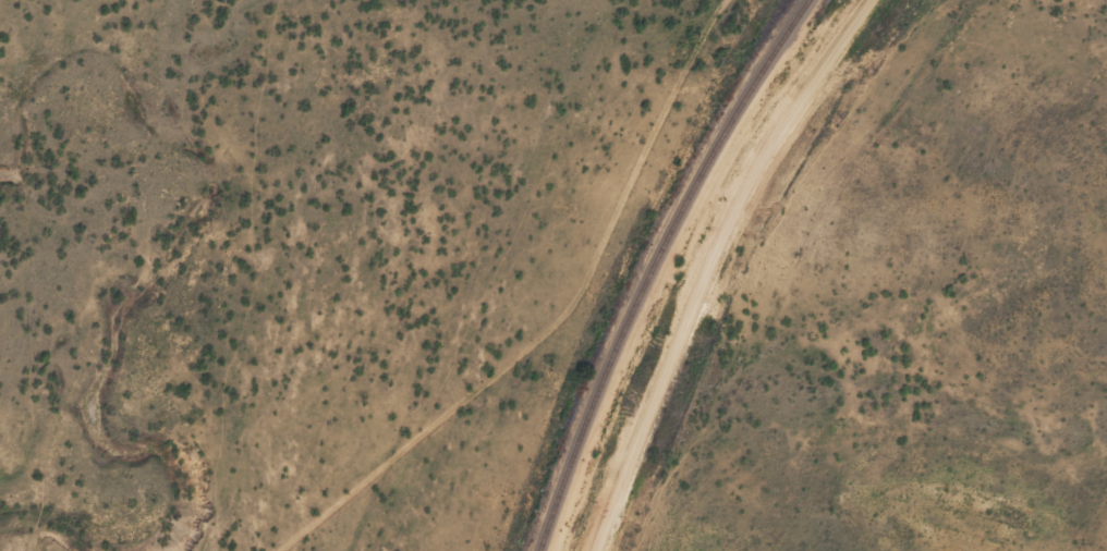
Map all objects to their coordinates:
railway: (650, 265)
road: (714, 265)

